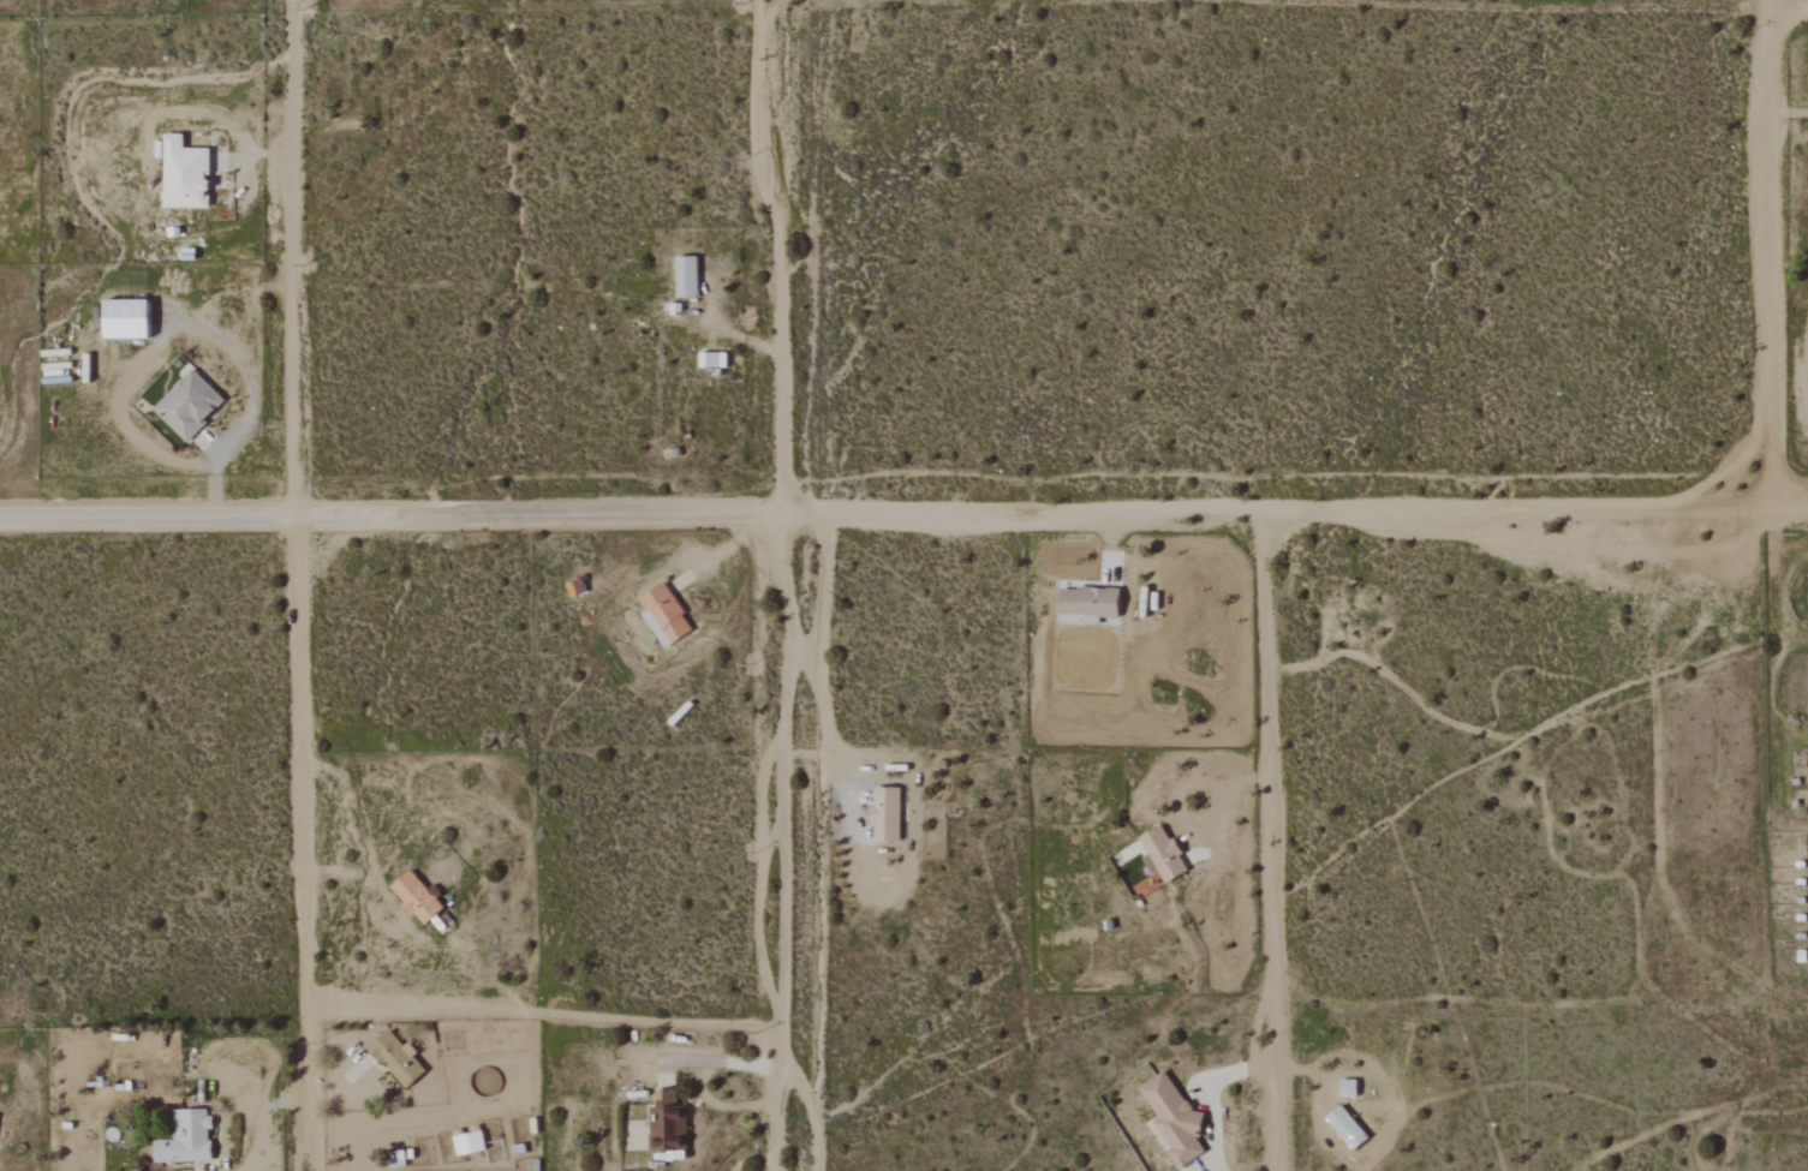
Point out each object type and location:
road: (1786, 12)
road: (107, 169)
building: (186, 174)
road: (1767, 250)
road: (777, 257)
road: (296, 259)
building: (687, 276)
building: (127, 319)
building: (714, 360)
road: (253, 404)
building: (189, 405)
road: (1308, 512)
road: (405, 518)
building: (1090, 602)
building: (666, 616)
road: (827, 721)
road: (807, 754)
road: (1228, 807)
building: (887, 814)
road: (1271, 841)
road: (360, 842)
road: (778, 843)
road: (297, 844)
building: (1164, 855)
building: (418, 897)
road: (539, 1014)
building: (398, 1058)
road: (717, 1063)
road: (340, 1085)
road: (1213, 1095)
road: (720, 1105)
road: (249, 1111)
road: (815, 1113)
building: (668, 1122)
building: (187, 1137)
building: (470, 1142)

